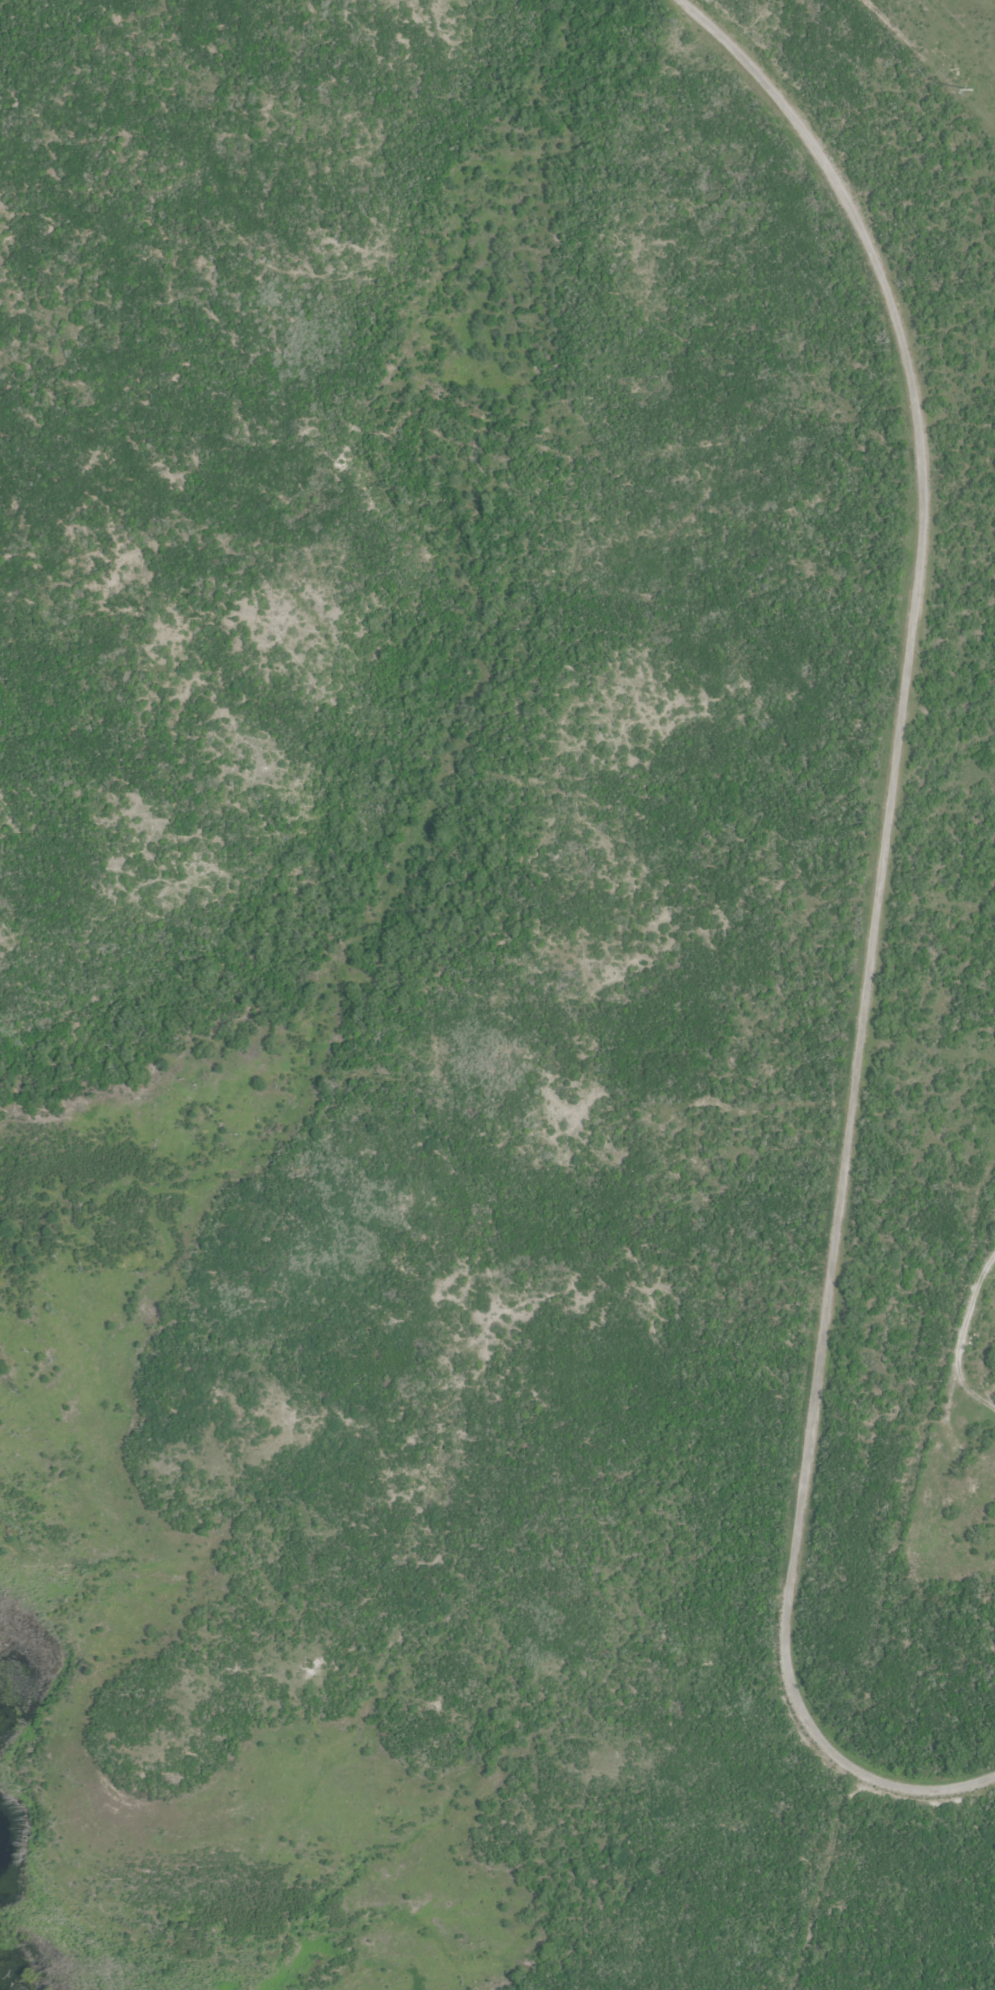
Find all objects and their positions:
power tower: (971, 90)
road: (869, 936)

